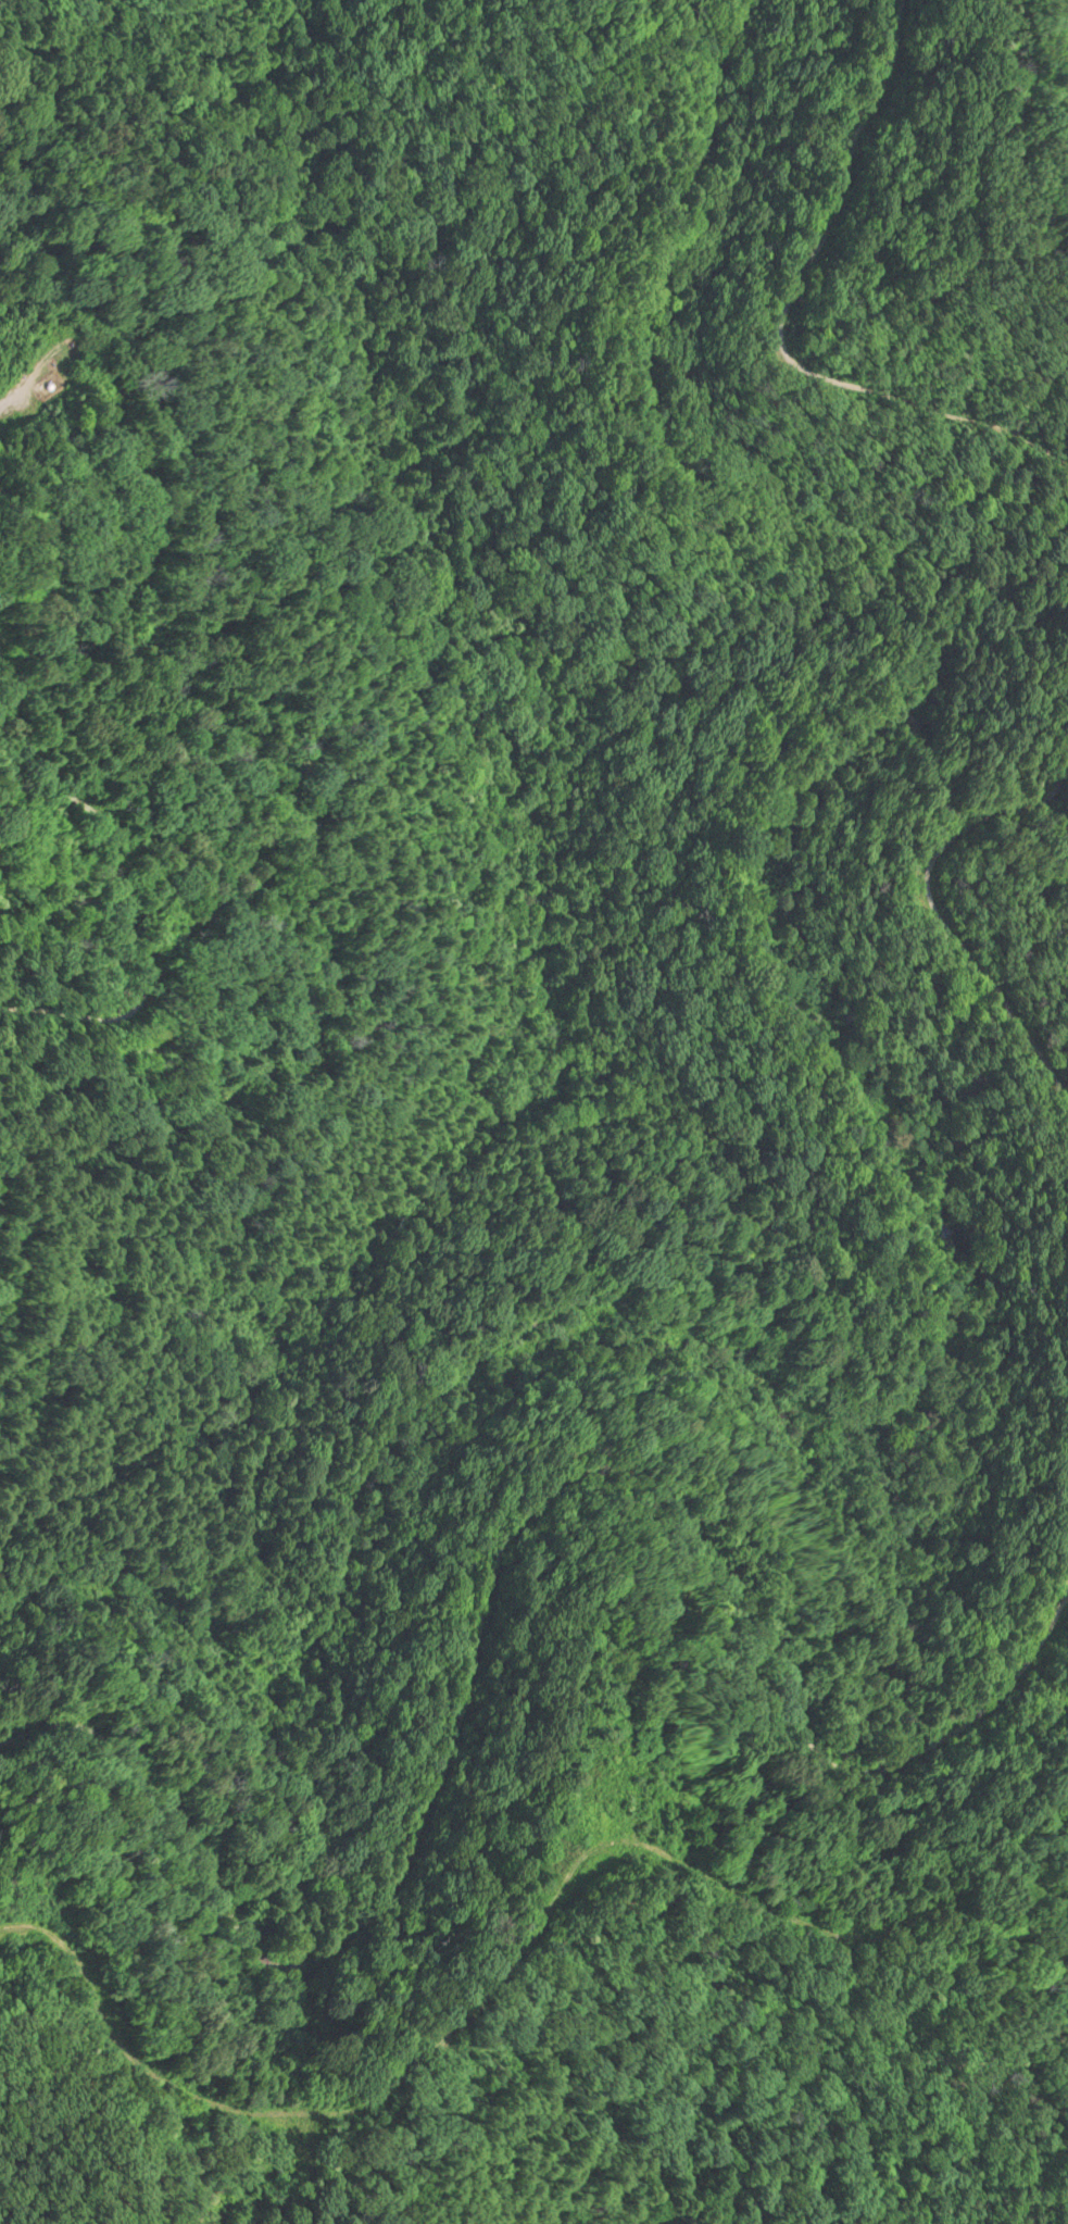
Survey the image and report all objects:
road: (591, 2149)

